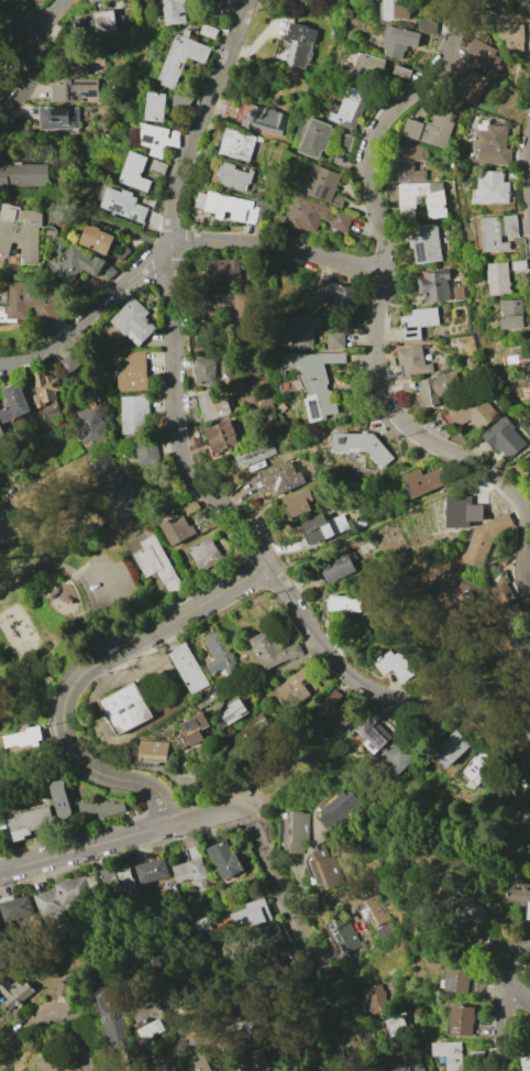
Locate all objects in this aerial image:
building: (95, 1)
building: (529, 3)
building: (389, 9)
building: (175, 11)
road: (32, 21)
building: (109, 22)
building: (429, 25)
building: (511, 31)
building: (209, 32)
building: (399, 41)
building: (301, 45)
building: (478, 55)
building: (183, 57)
building: (86, 65)
building: (371, 68)
building: (402, 72)
road: (31, 75)
building: (473, 88)
building: (74, 89)
building: (156, 106)
building: (351, 108)
building: (59, 118)
building: (266, 120)
building: (431, 129)
building: (314, 138)
building: (158, 139)
building: (345, 142)
building: (495, 142)
building: (238, 145)
building: (407, 161)
building: (158, 167)
building: (135, 170)
building: (23, 175)
building: (233, 176)
building: (325, 186)
building: (494, 187)
building: (420, 199)
building: (123, 204)
building: (228, 206)
building: (307, 215)
building: (342, 221)
road: (110, 225)
building: (51, 231)
building: (498, 231)
building: (20, 232)
building: (477, 237)
building: (97, 239)
road: (172, 243)
building: (426, 243)
building: (77, 264)
building: (519, 265)
building: (224, 271)
building: (499, 278)
building: (434, 286)
road: (172, 291)
building: (333, 297)
building: (27, 303)
building: (231, 305)
building: (511, 306)
road: (378, 307)
building: (133, 321)
building: (419, 321)
building: (512, 321)
building: (306, 331)
building: (336, 340)
building: (509, 360)
building: (70, 362)
building: (413, 362)
building: (132, 372)
building: (210, 373)
building: (317, 382)
building: (429, 389)
building: (46, 395)
building: (15, 404)
building: (213, 405)
building: (474, 411)
building: (134, 413)
building: (90, 426)
building: (2, 433)
building: (223, 437)
building: (505, 438)
building: (364, 447)
building: (148, 452)
building: (255, 455)
road: (519, 458)
building: (281, 478)
building: (428, 479)
building: (121, 493)
building: (300, 503)
building: (192, 507)
building: (462, 511)
building: (324, 527)
building: (178, 529)
building: (485, 540)
building: (206, 555)
road: (84, 566)
building: (159, 566)
building: (336, 567)
road: (78, 577)
park: (58, 582)
parking lot: (111, 584)
building: (504, 586)
building: (463, 593)
road: (123, 597)
building: (346, 604)
building: (511, 611)
building: (520, 638)
building: (273, 649)
building: (222, 658)
building: (396, 665)
building: (188, 668)
power substation: (188, 668)
road: (90, 670)
building: (295, 687)
road: (373, 689)
building: (126, 708)
building: (194, 710)
building: (235, 711)
building: (334, 712)
building: (256, 723)
building: (376, 731)
building: (192, 732)
building: (24, 741)
building: (451, 748)
building: (154, 752)
building: (401, 756)
building: (478, 766)
road: (212, 790)
building: (516, 793)
building: (62, 798)
building: (99, 807)
building: (336, 808)
building: (528, 811)
road: (196, 818)
building: (31, 822)
building: (295, 832)
road: (77, 845)
road: (1, 860)
building: (225, 860)
building: (191, 865)
building: (327, 870)
building: (154, 871)
road: (300, 875)
building: (128, 882)
building: (110, 884)
building: (63, 893)
building: (521, 896)
building: (18, 906)
building: (378, 911)
building: (474, 911)
building: (253, 914)
building: (529, 915)
building: (202, 928)
building: (344, 935)
road: (300, 938)
building: (267, 939)
road: (510, 972)
building: (462, 977)
building: (64, 990)
building: (18, 994)
building: (377, 998)
building: (152, 1012)
road: (56, 1015)
building: (115, 1017)
building: (1, 1020)
building: (249, 1020)
building: (464, 1020)
road: (503, 1028)
building: (156, 1029)
building: (383, 1030)
road: (202, 1046)
building: (450, 1053)
building: (476, 1056)
building: (261, 1060)
building: (526, 1061)
building: (202, 1062)
building: (47, 1063)
building: (411, 1064)

